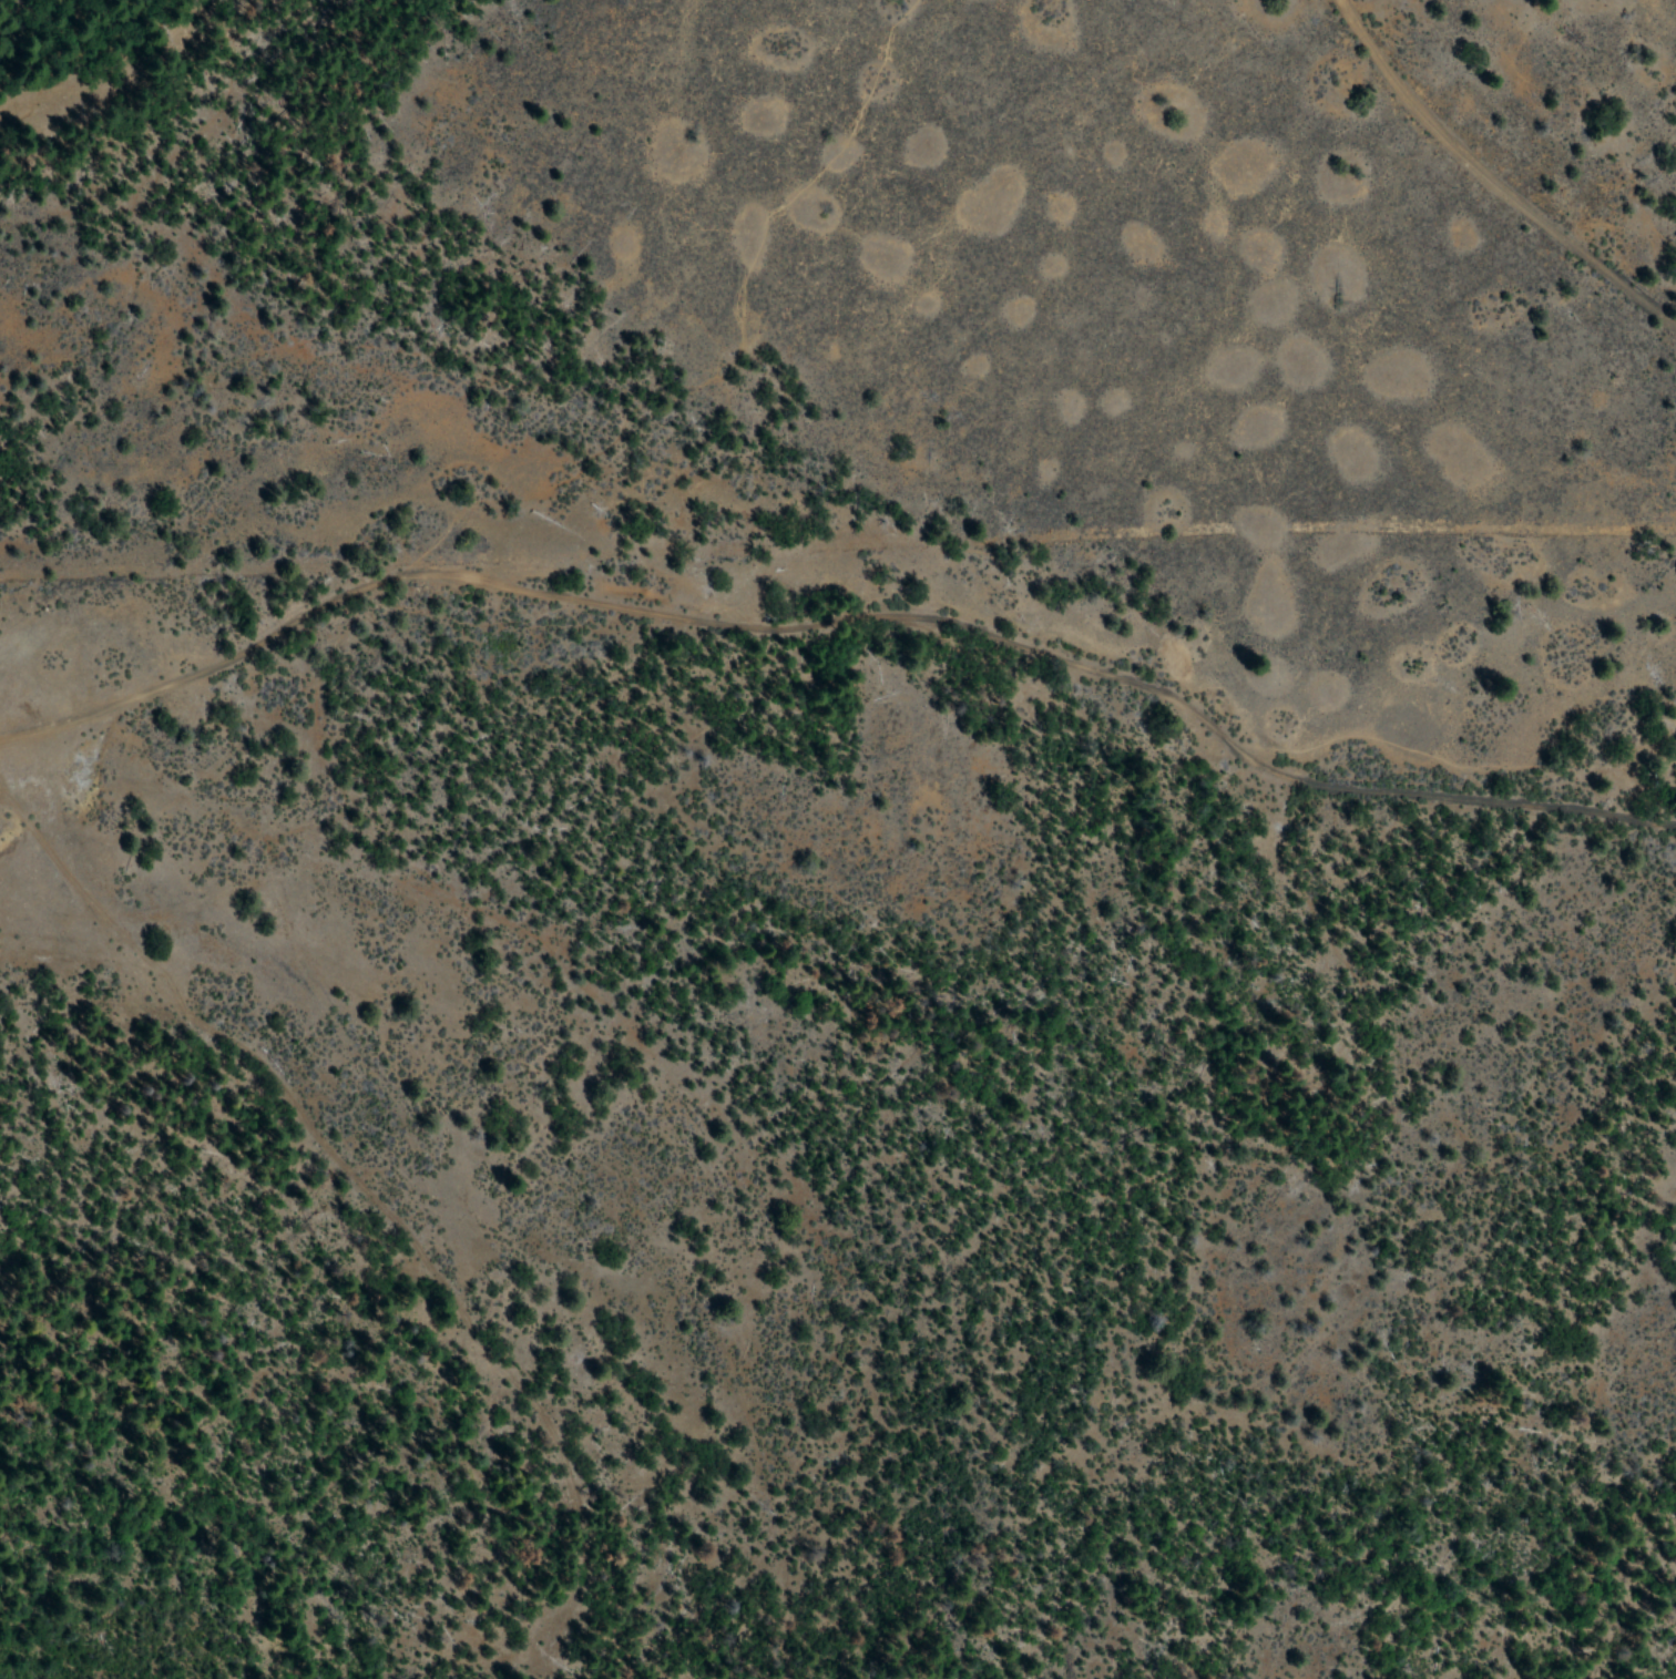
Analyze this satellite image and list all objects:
road: (1491, 173)

